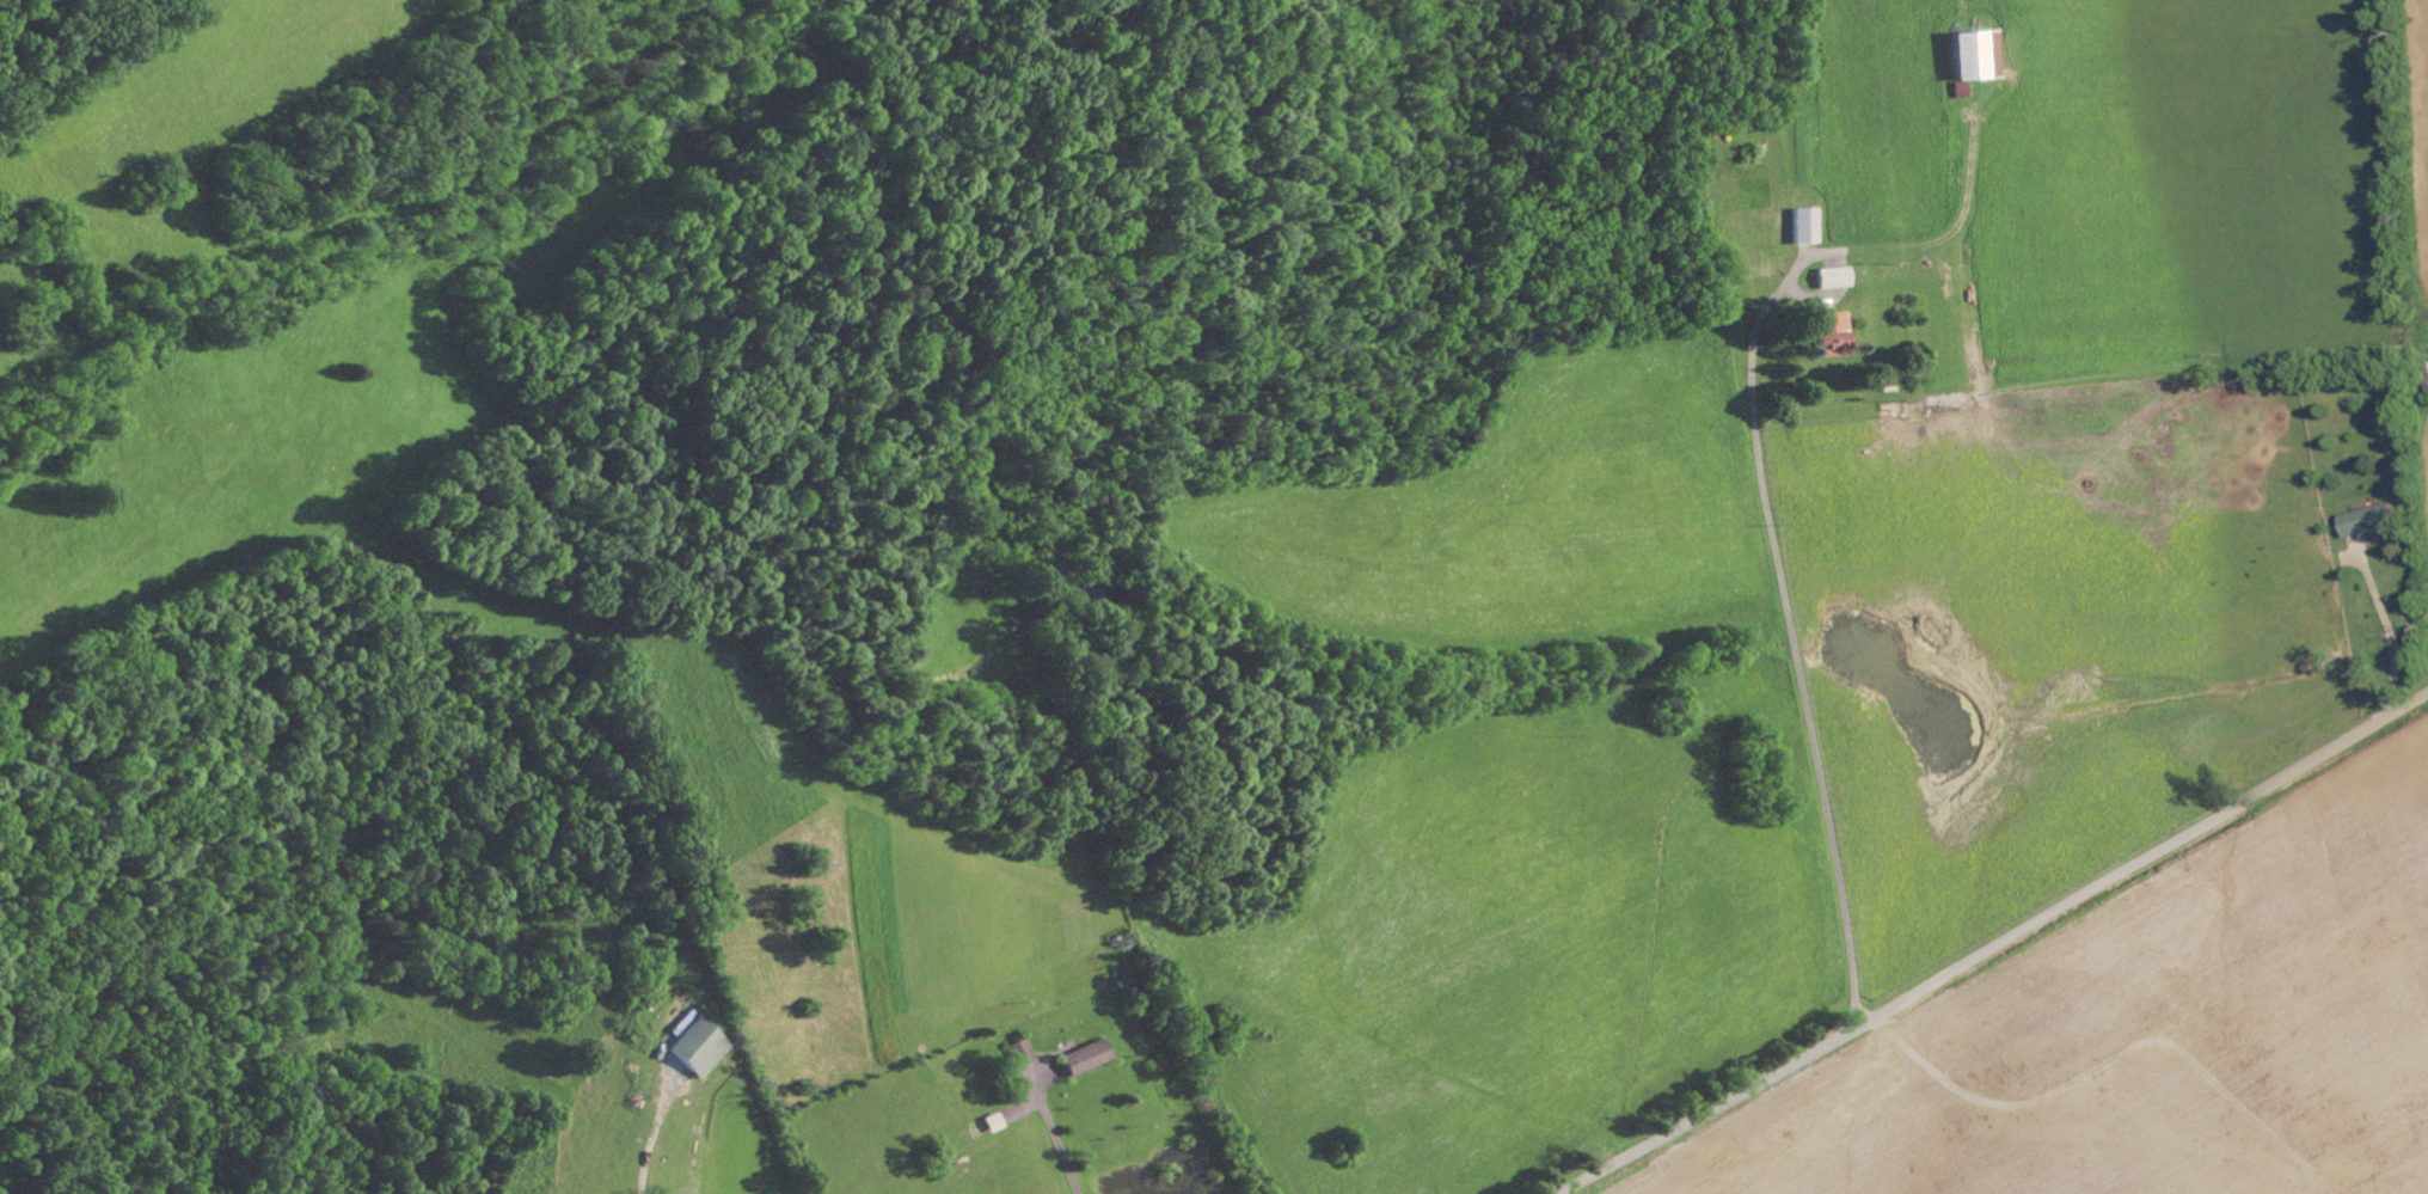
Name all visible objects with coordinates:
building: (1972, 54)
building: (1801, 225)
building: (1832, 276)
building: (1829, 332)
building: (2369, 520)
road: (2392, 637)
road: (1795, 672)
road: (1993, 944)
building: (695, 1047)
building: (1020, 1052)
building: (1085, 1057)
road: (1061, 1157)
road: (655, 1161)

